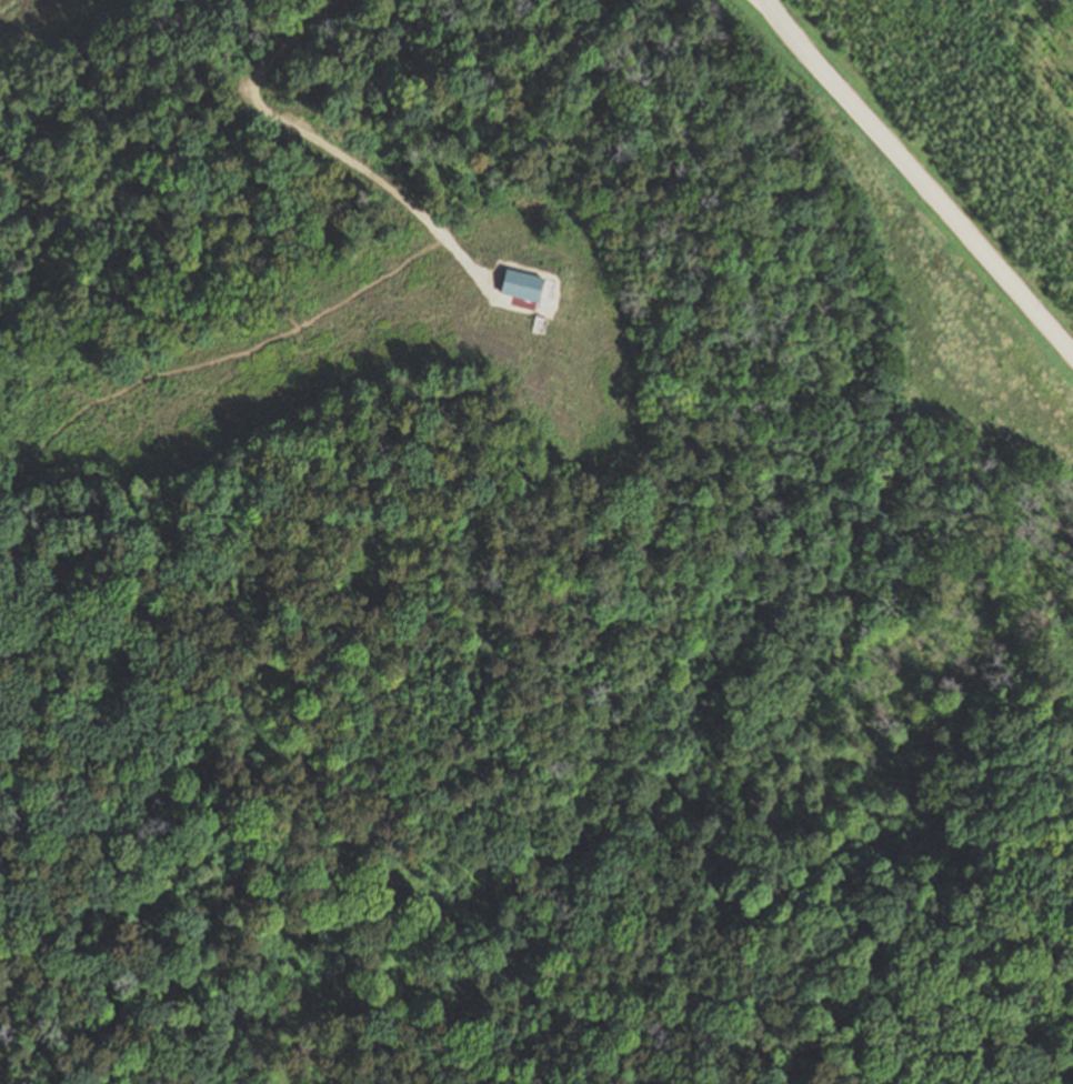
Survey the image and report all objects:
road: (916, 180)

